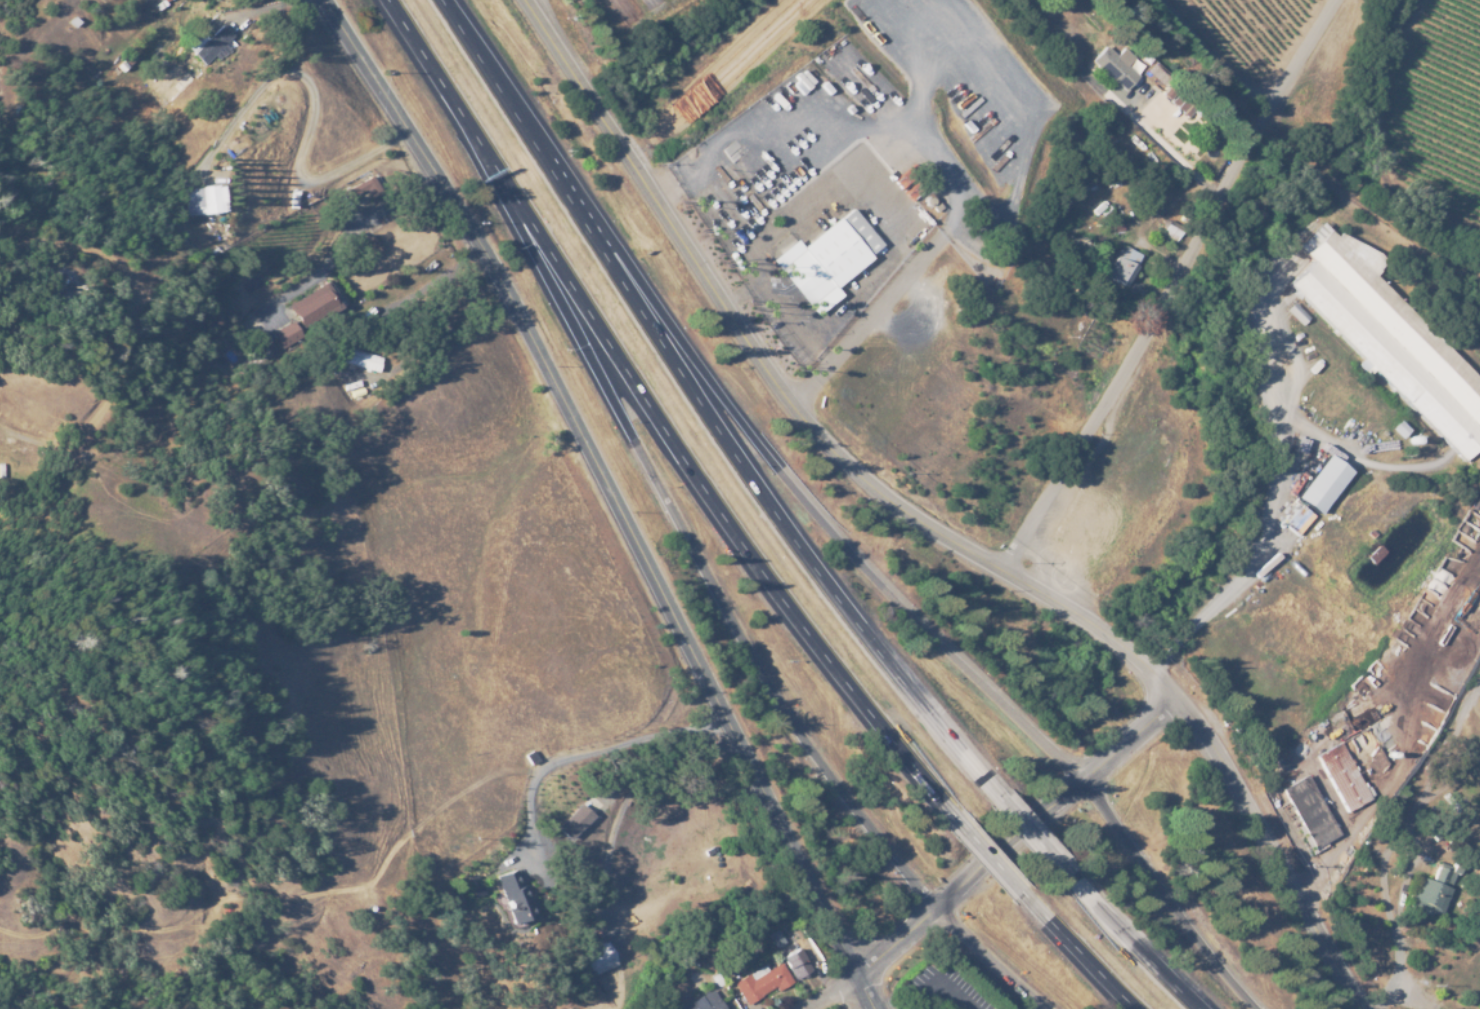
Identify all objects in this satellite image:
building: (210, 44)
road: (1213, 57)
building: (1115, 66)
road: (1308, 66)
railway: (1194, 67)
building: (1156, 73)
road: (743, 88)
building: (174, 89)
road: (1143, 96)
building: (1180, 104)
road: (945, 180)
building: (203, 200)
railway: (1367, 212)
road: (343, 242)
building: (828, 262)
building: (1123, 265)
building: (312, 304)
building: (1296, 313)
building: (284, 335)
building: (1395, 342)
road: (1134, 351)
building: (360, 360)
road: (701, 405)
road: (658, 423)
building: (1322, 484)
road: (610, 496)
road: (1264, 521)
road: (929, 524)
road: (833, 527)
road: (711, 580)
road: (1132, 740)
road: (585, 752)
building: (1342, 776)
building: (1311, 813)
building: (574, 821)
road: (1030, 829)
road: (998, 861)
road: (973, 885)
building: (1432, 890)
building: (512, 895)
road: (1169, 899)
road: (1134, 940)
road: (1086, 954)
building: (599, 957)
building: (795, 962)
road: (989, 964)
building: (761, 981)
road: (844, 998)
building: (705, 1001)

